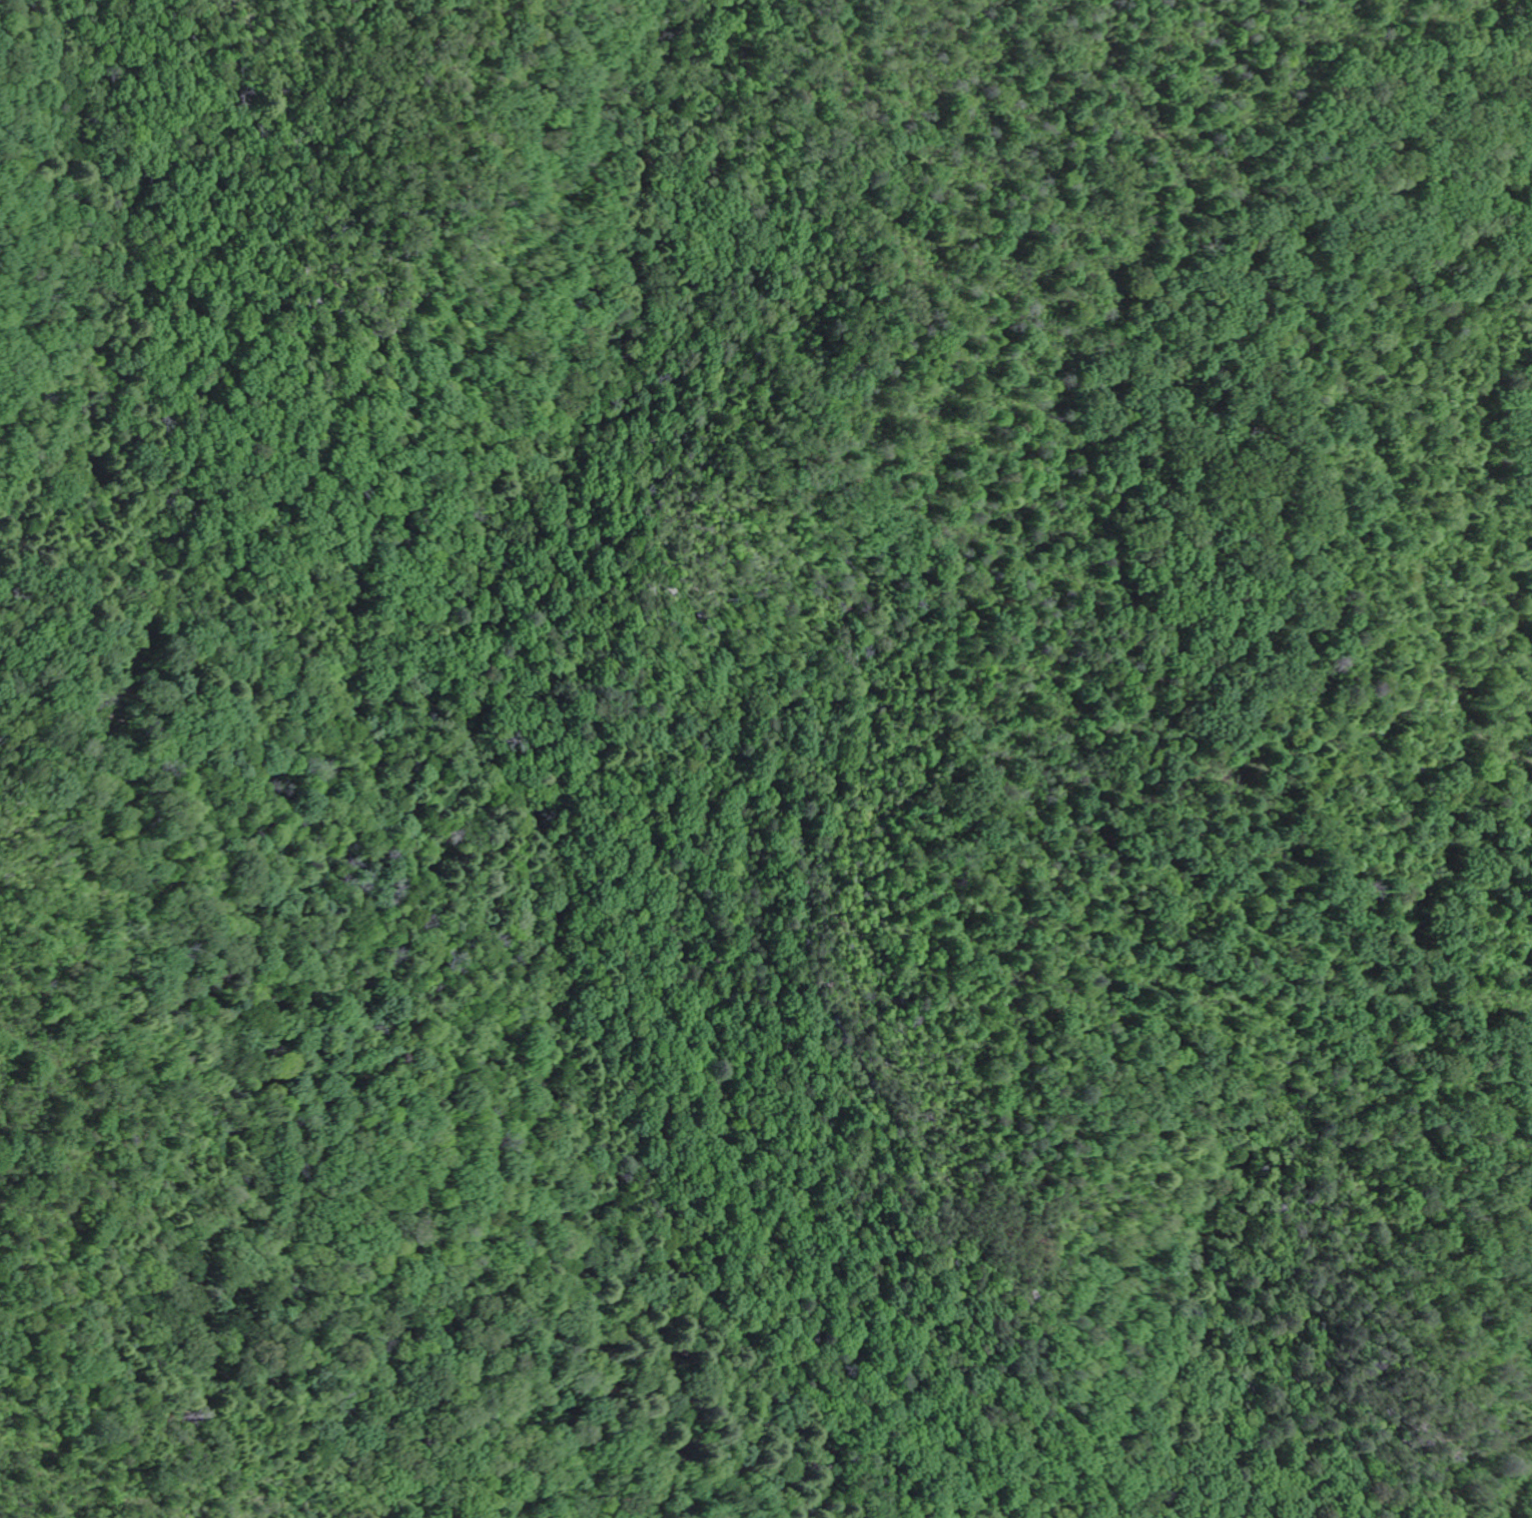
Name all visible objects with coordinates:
road: (1232, 281)
road: (1453, 680)

